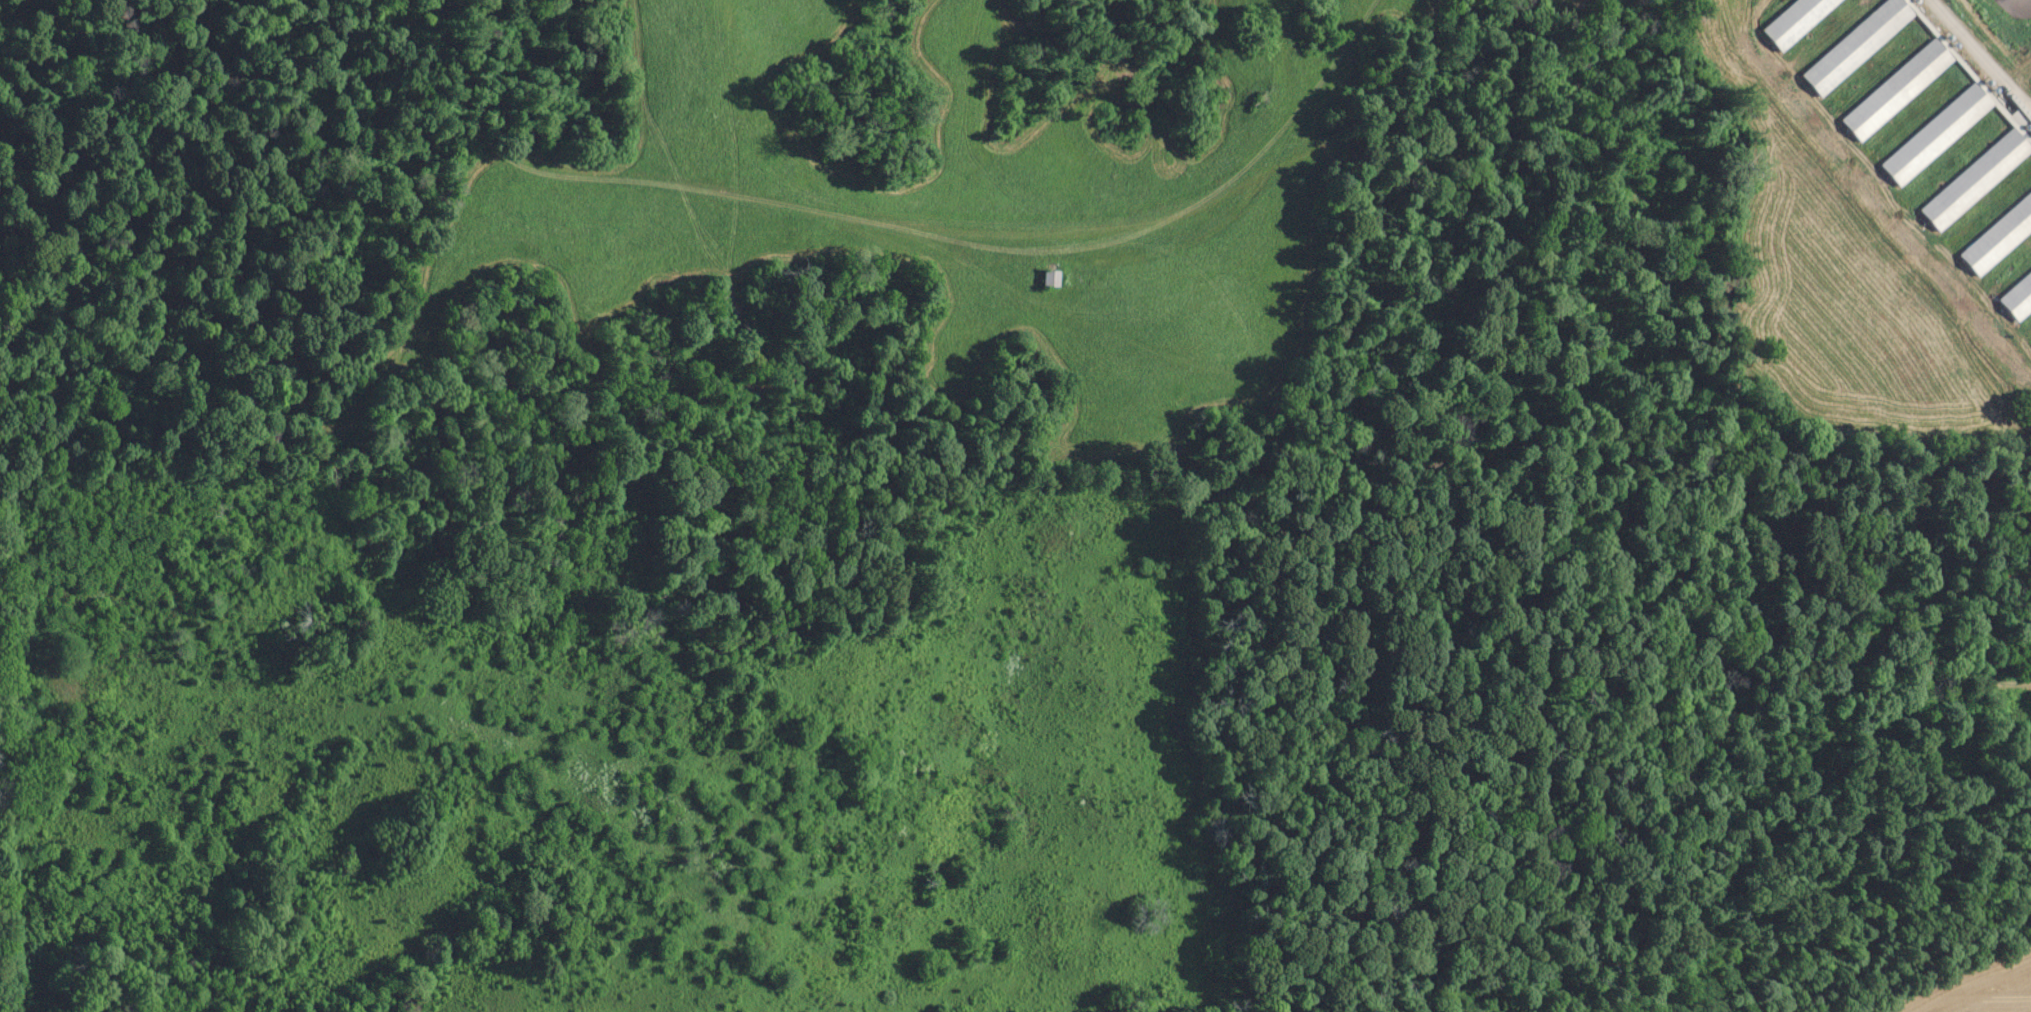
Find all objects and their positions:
building: (1795, 20)
building: (1856, 46)
building: (1896, 90)
building: (1935, 135)
building: (1975, 180)
building: (1998, 238)
building: (1050, 279)
building: (2017, 298)

